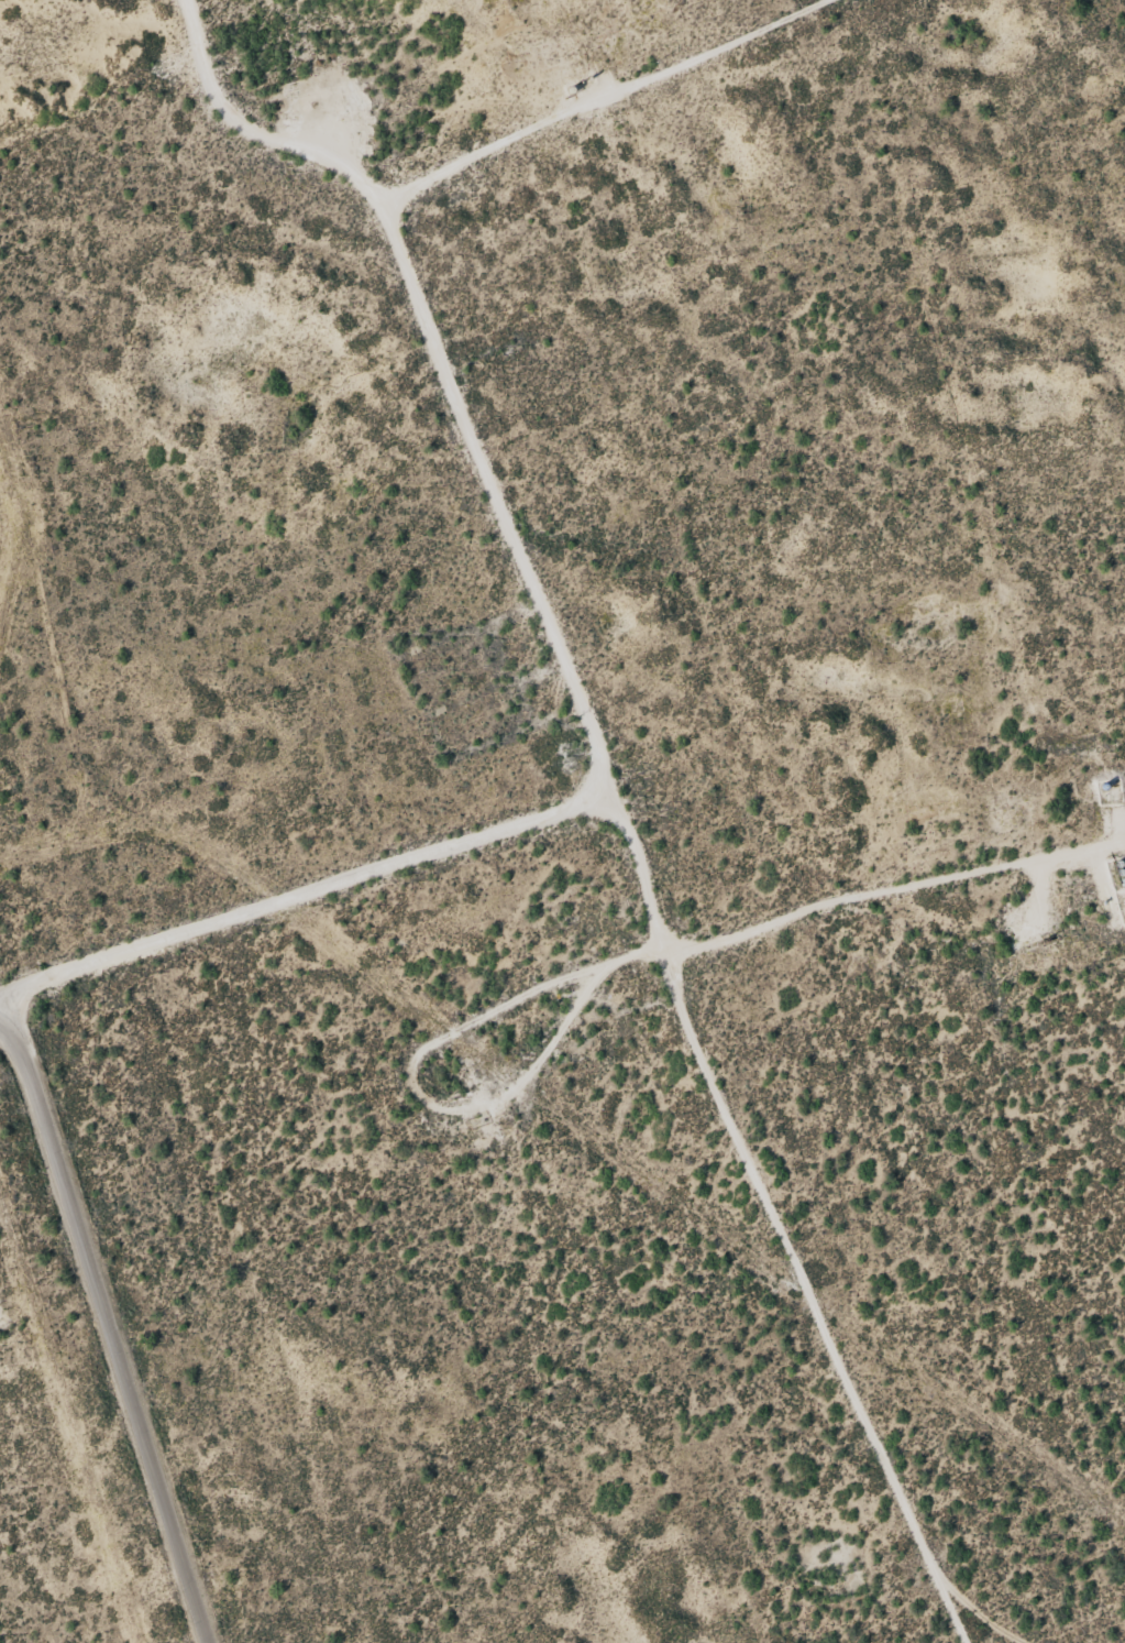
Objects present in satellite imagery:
road: (254, 165)
road: (391, 277)
road: (606, 826)
road: (3, 1011)
road: (818, 1308)
road: (92, 1329)

